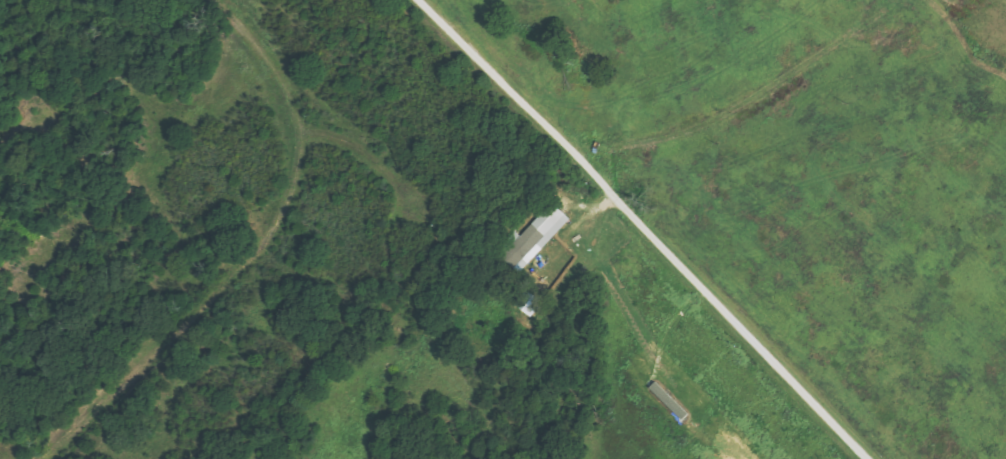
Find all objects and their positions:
road: (644, 228)
building: (536, 232)

